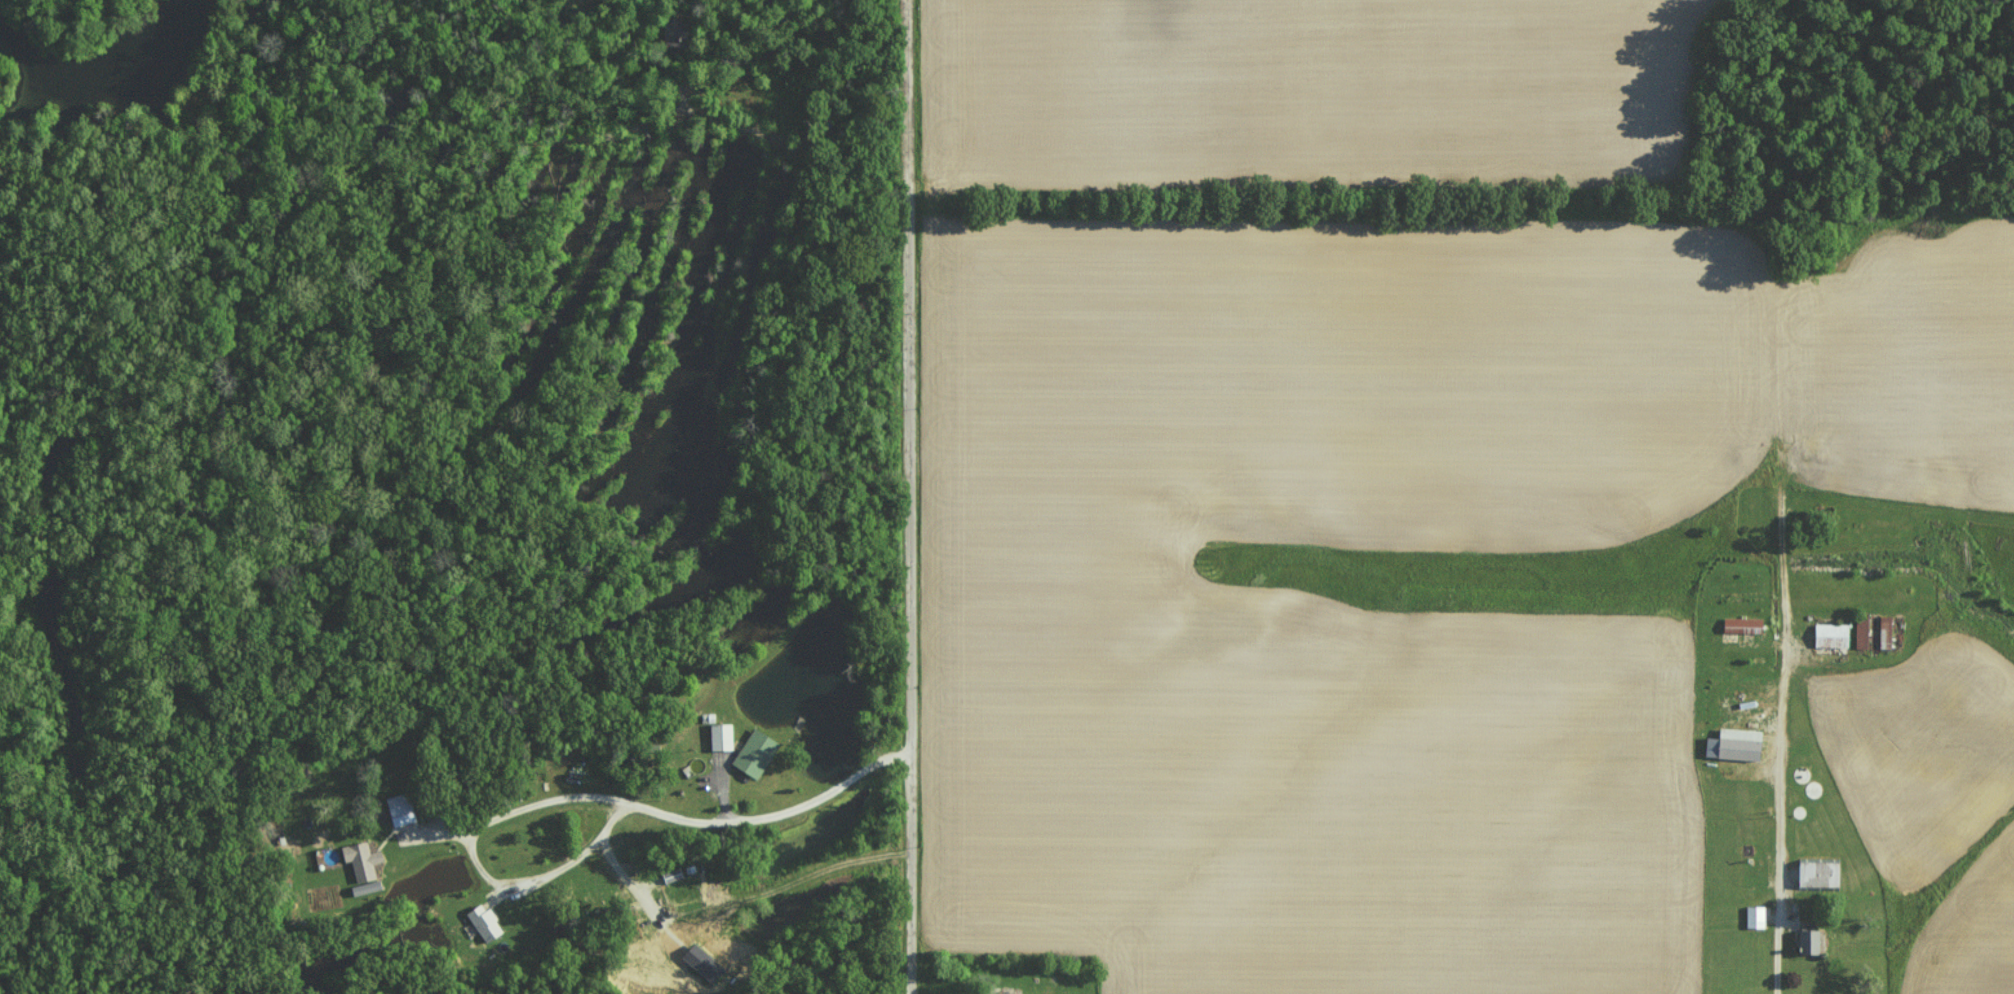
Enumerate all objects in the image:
building: (677, 31)
road: (903, 497)
building: (1829, 635)
building: (719, 736)
building: (1732, 744)
building: (752, 753)
road: (582, 797)
building: (402, 808)
road: (1782, 812)
building: (360, 861)
building: (669, 875)
building: (363, 887)
building: (1753, 916)
building: (482, 922)
building: (1806, 937)
building: (700, 962)

